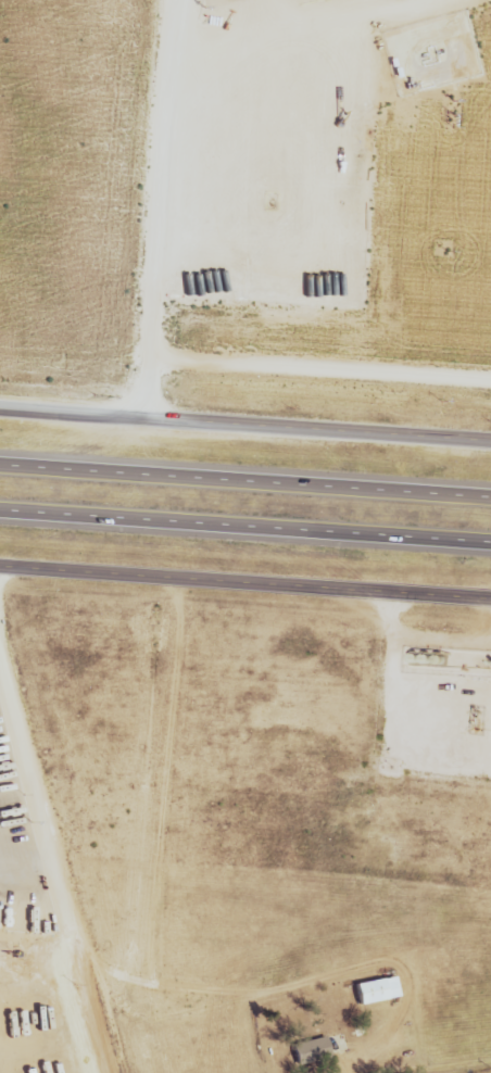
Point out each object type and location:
road: (456, 62)
road: (246, 169)
road: (246, 418)
road: (244, 481)
road: (244, 525)
road: (246, 582)
road: (62, 836)
road: (35, 870)
building: (376, 989)
building: (315, 1046)

